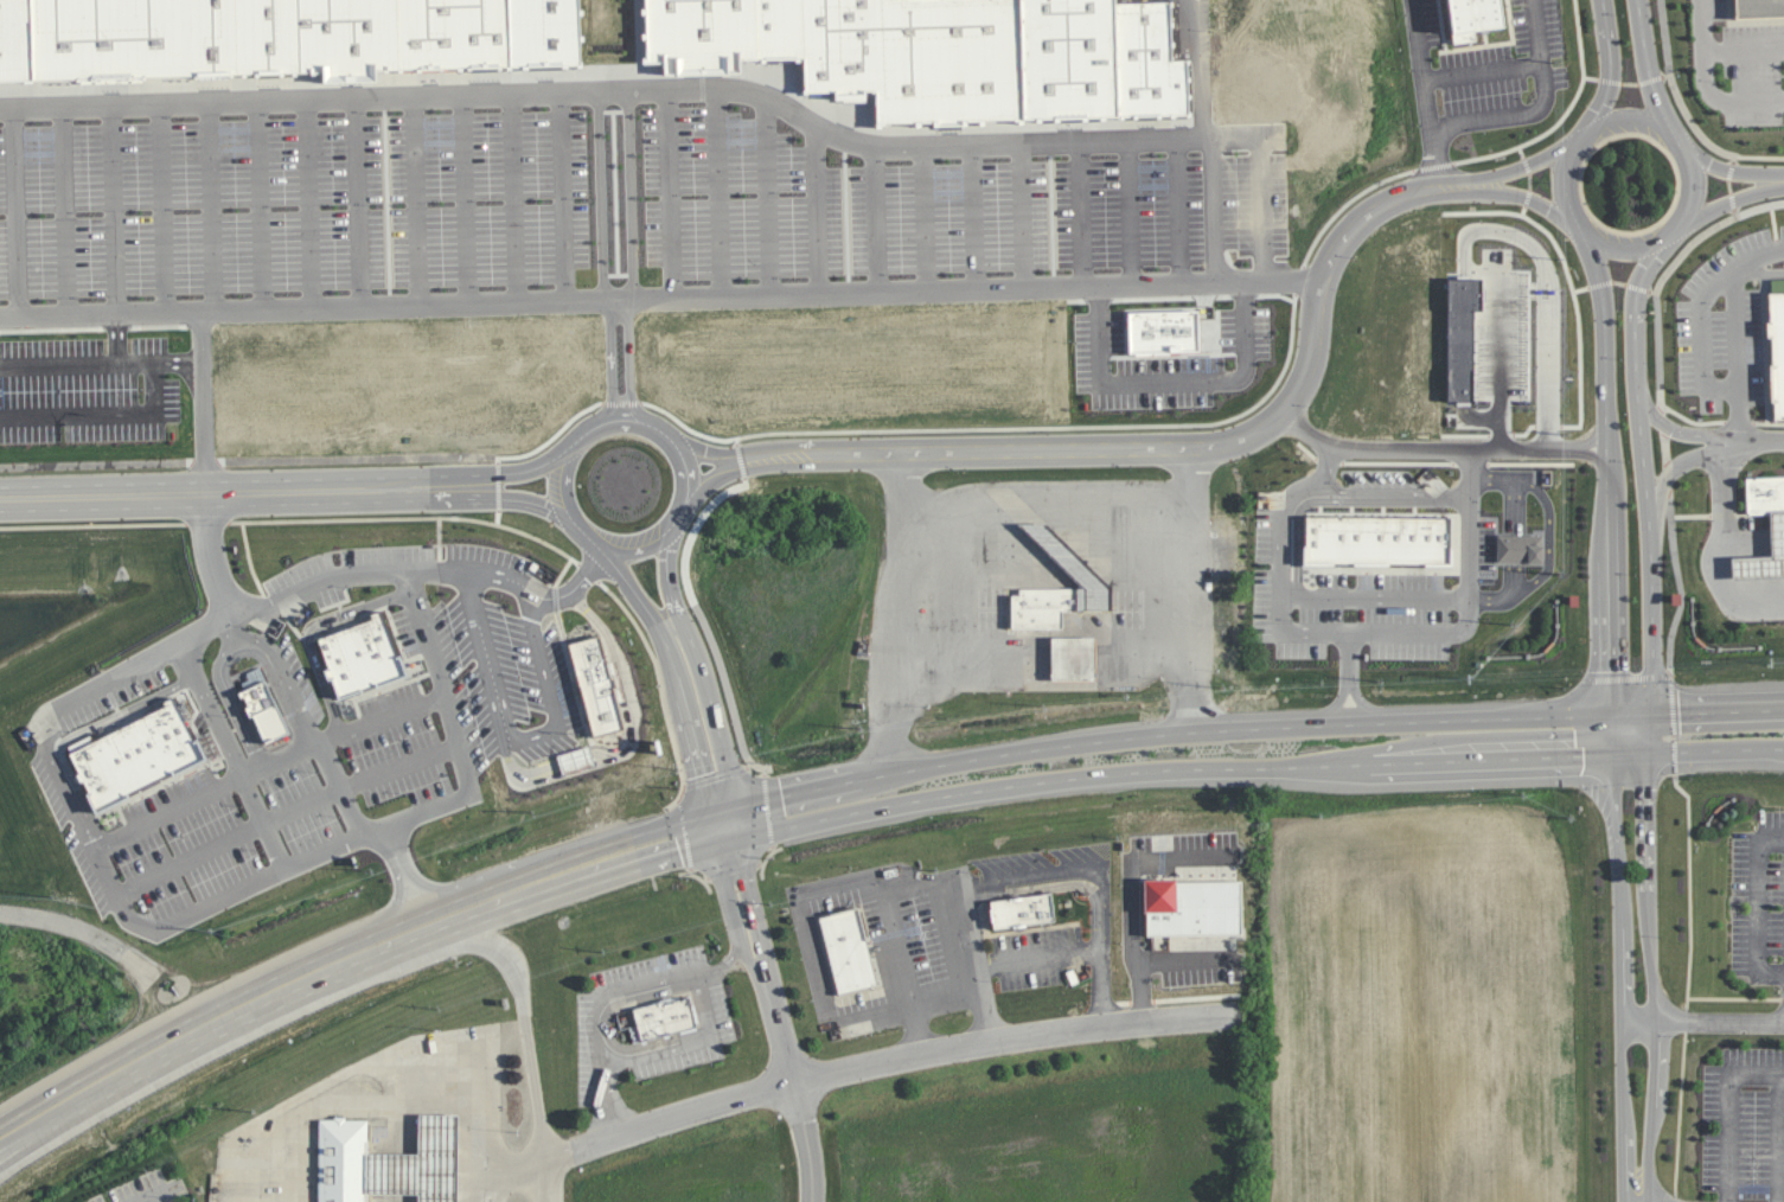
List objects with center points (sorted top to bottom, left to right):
building: (1758, 9)
building: (1476, 17)
building: (799, 28)
building: (565, 34)
building: (505, 36)
building: (452, 37)
building: (722, 37)
road: (1664, 37)
building: (267, 39)
building: (136, 41)
building: (372, 41)
building: (31, 44)
road: (1744, 49)
building: (858, 50)
building: (1093, 63)
building: (970, 65)
road: (1424, 66)
road: (1611, 66)
building: (1171, 69)
road: (1649, 72)
road: (1215, 73)
road: (1485, 75)
road: (1703, 84)
road: (592, 95)
road: (620, 96)
building: (1254, 104)
road: (1541, 109)
road: (1692, 123)
road: (1192, 148)
road: (1437, 159)
road: (1536, 162)
road: (1758, 164)
road: (1726, 170)
road: (1778, 181)
road: (1729, 186)
road: (1535, 199)
road: (1725, 205)
parking lot: (560, 230)
road: (1492, 235)
road: (1661, 239)
road: (1690, 247)
road: (663, 303)
road: (622, 305)
road: (207, 308)
road: (1735, 330)
road: (1703, 339)
road: (130, 343)
building: (1776, 352)
road: (85, 370)
road: (1175, 376)
road: (1660, 376)
road: (124, 420)
road: (1159, 424)
road: (1752, 442)
road: (1188, 445)
road: (1718, 447)
road: (1441, 450)
road: (705, 454)
road: (536, 475)
road: (1668, 475)
road: (564, 485)
road: (248, 488)
road: (1611, 490)
road: (1649, 491)
building: (1764, 494)
road: (1042, 507)
road: (677, 519)
road: (1673, 520)
building: (1776, 532)
road: (1549, 535)
road: (588, 536)
building: (1376, 539)
building: (1518, 549)
road: (1714, 551)
road: (593, 555)
road: (212, 556)
road: (415, 567)
building: (1757, 567)
gas station: (1757, 567)
road: (616, 570)
road: (1177, 584)
road: (1281, 596)
road: (1469, 597)
road: (669, 605)
road: (903, 607)
road: (235, 632)
road: (242, 639)
road: (1670, 651)
building: (364, 658)
building: (1073, 659)
road: (123, 673)
building: (618, 689)
road: (721, 709)
traffic signals: (1617, 712)
traffic signals: (1650, 712)
building: (263, 714)
road: (698, 717)
road: (1257, 725)
building: (178, 730)
parking lot: (320, 730)
road: (461, 731)
road: (350, 733)
road: (647, 743)
building: (154, 744)
road: (532, 746)
traffic signals: (1650, 753)
traffic signals: (1618, 754)
road: (238, 755)
building: (128, 757)
road: (1261, 763)
building: (98, 773)
road: (70, 799)
traffic signals: (744, 823)
road: (733, 825)
traffic signals: (721, 829)
road: (592, 865)
road: (1063, 869)
road: (264, 880)
road: (1690, 884)
road: (760, 896)
road: (742, 902)
road: (1759, 906)
building: (1194, 907)
building: (1021, 909)
road: (447, 916)
building: (913, 940)
road: (804, 941)
building: (848, 951)
road: (1032, 954)
road: (970, 960)
road: (309, 973)
road: (1654, 977)
road: (1620, 978)
road: (1096, 983)
road: (650, 987)
road: (1735, 997)
road: (940, 1002)
building: (664, 1016)
road: (533, 1021)
road: (1703, 1023)
road: (686, 1043)
road: (792, 1044)
road: (894, 1059)
road: (95, 1082)
road: (366, 1095)
road: (608, 1102)
road: (1680, 1112)
road: (1732, 1115)
road: (1780, 1137)
road: (811, 1159)
building: (343, 1161)
building: (421, 1165)
road: (505, 1170)
road: (555, 1179)
road: (145, 1197)

